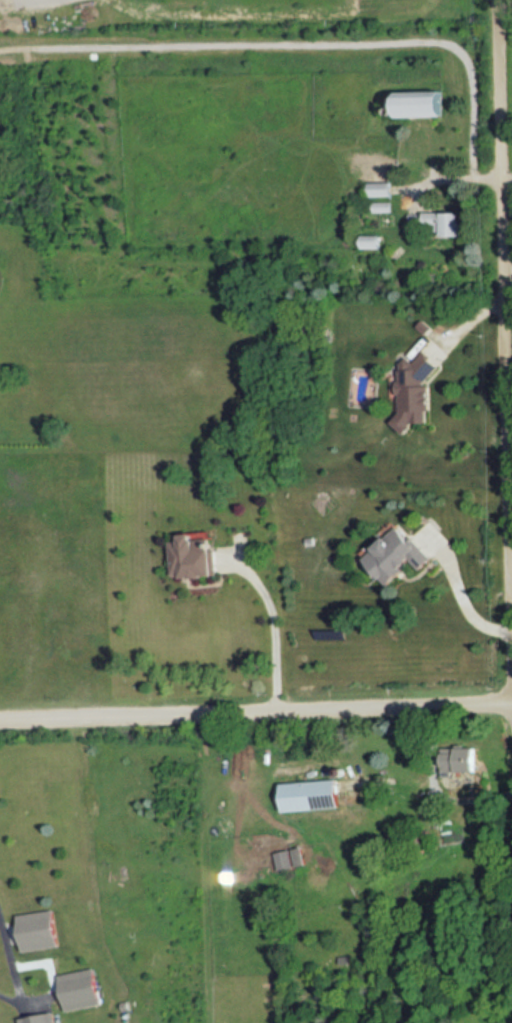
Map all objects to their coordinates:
road: (53, 2)
building: (420, 103)
road: (507, 177)
building: (381, 188)
building: (442, 223)
building: (372, 240)
road: (505, 245)
road: (509, 273)
building: (414, 391)
building: (397, 553)
building: (193, 557)
road: (464, 600)
road: (275, 631)
road: (256, 710)
building: (459, 759)
building: (310, 795)
building: (299, 855)
building: (283, 859)
building: (38, 929)
road: (9, 954)
building: (79, 989)
building: (39, 1019)

